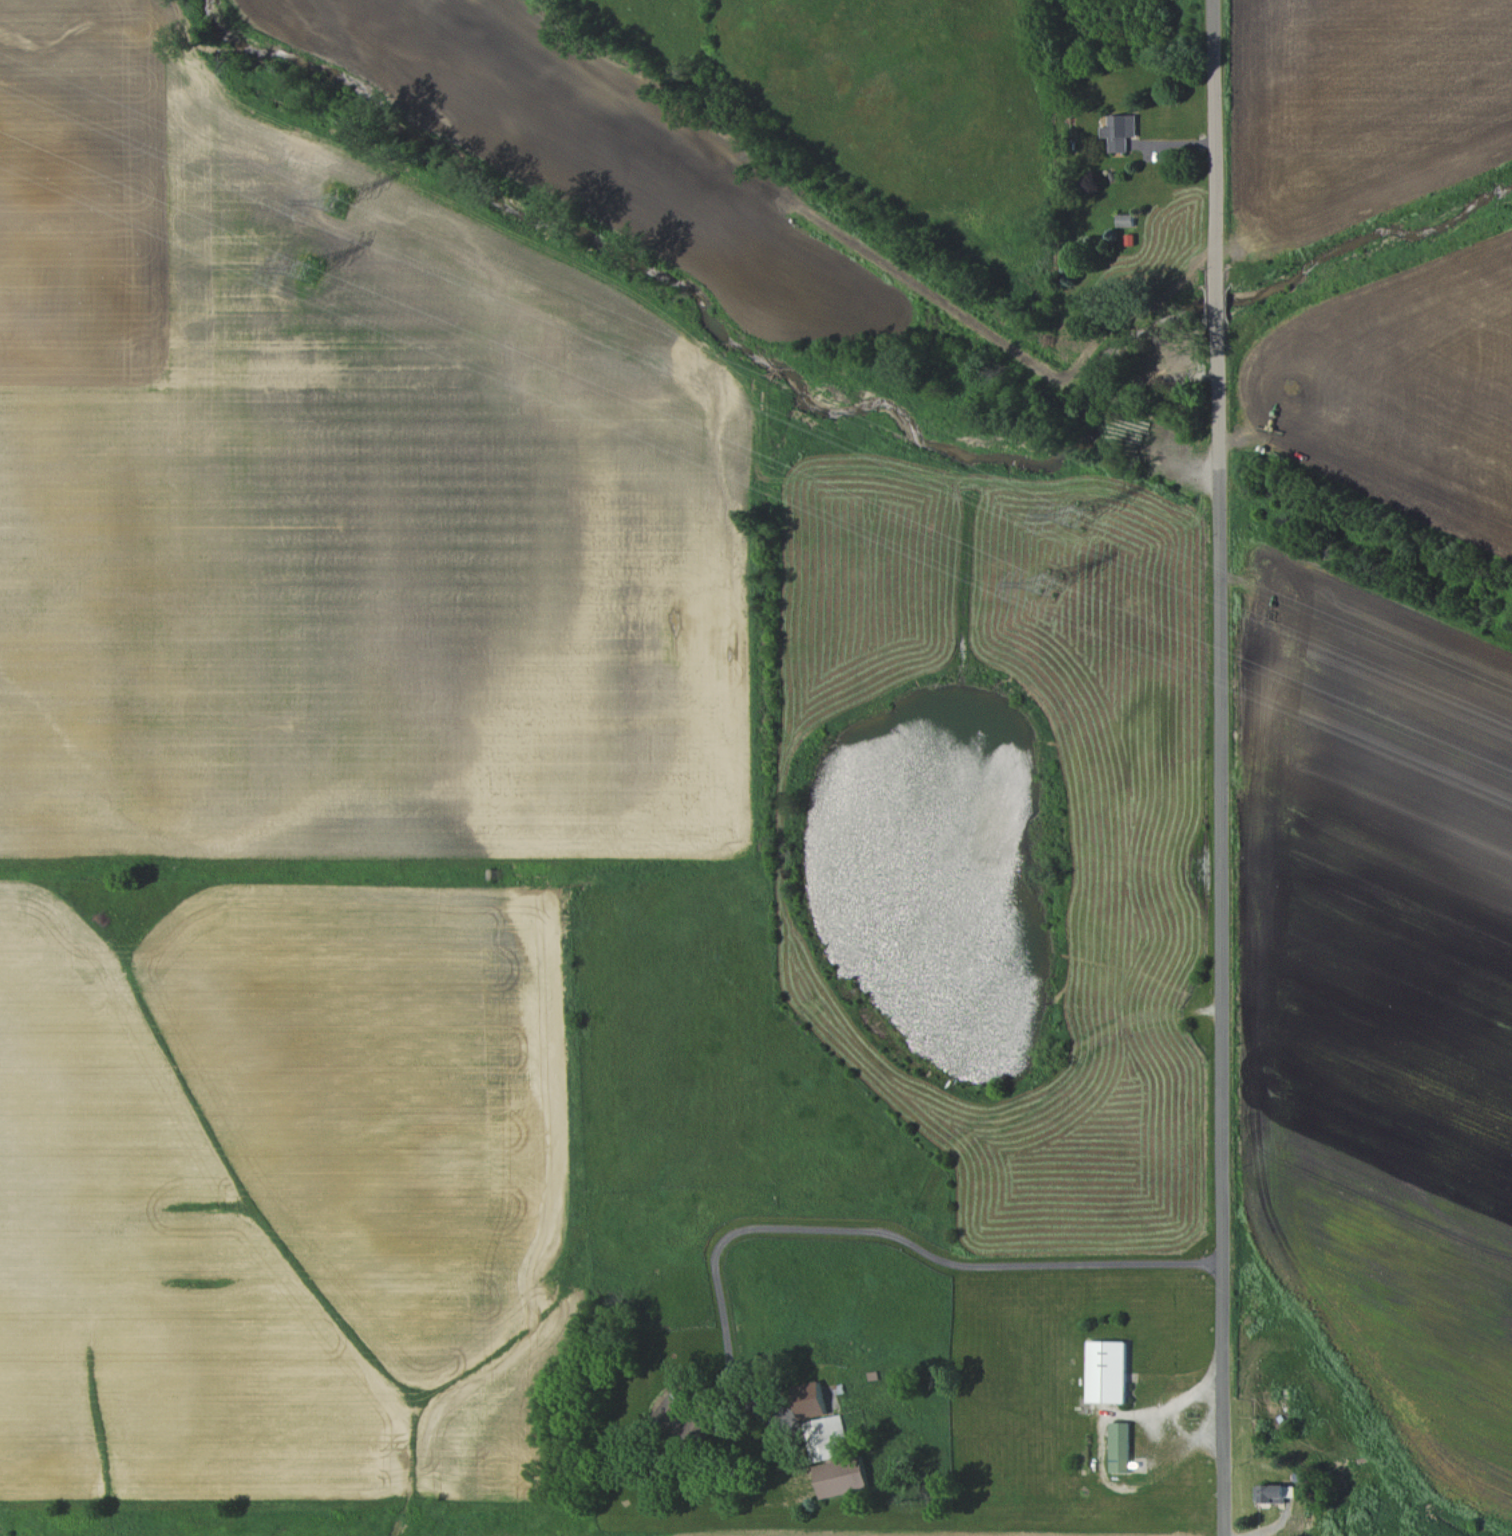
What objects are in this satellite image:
building: (1120, 130)
power tower: (336, 201)
building: (1124, 219)
power tower: (309, 269)
power tower: (1078, 516)
power tower: (1050, 583)
road: (1221, 767)
road: (895, 1234)
building: (1108, 1370)
building: (811, 1398)
building: (681, 1415)
building: (826, 1435)
building: (1120, 1445)
building: (842, 1475)
building: (1274, 1492)

